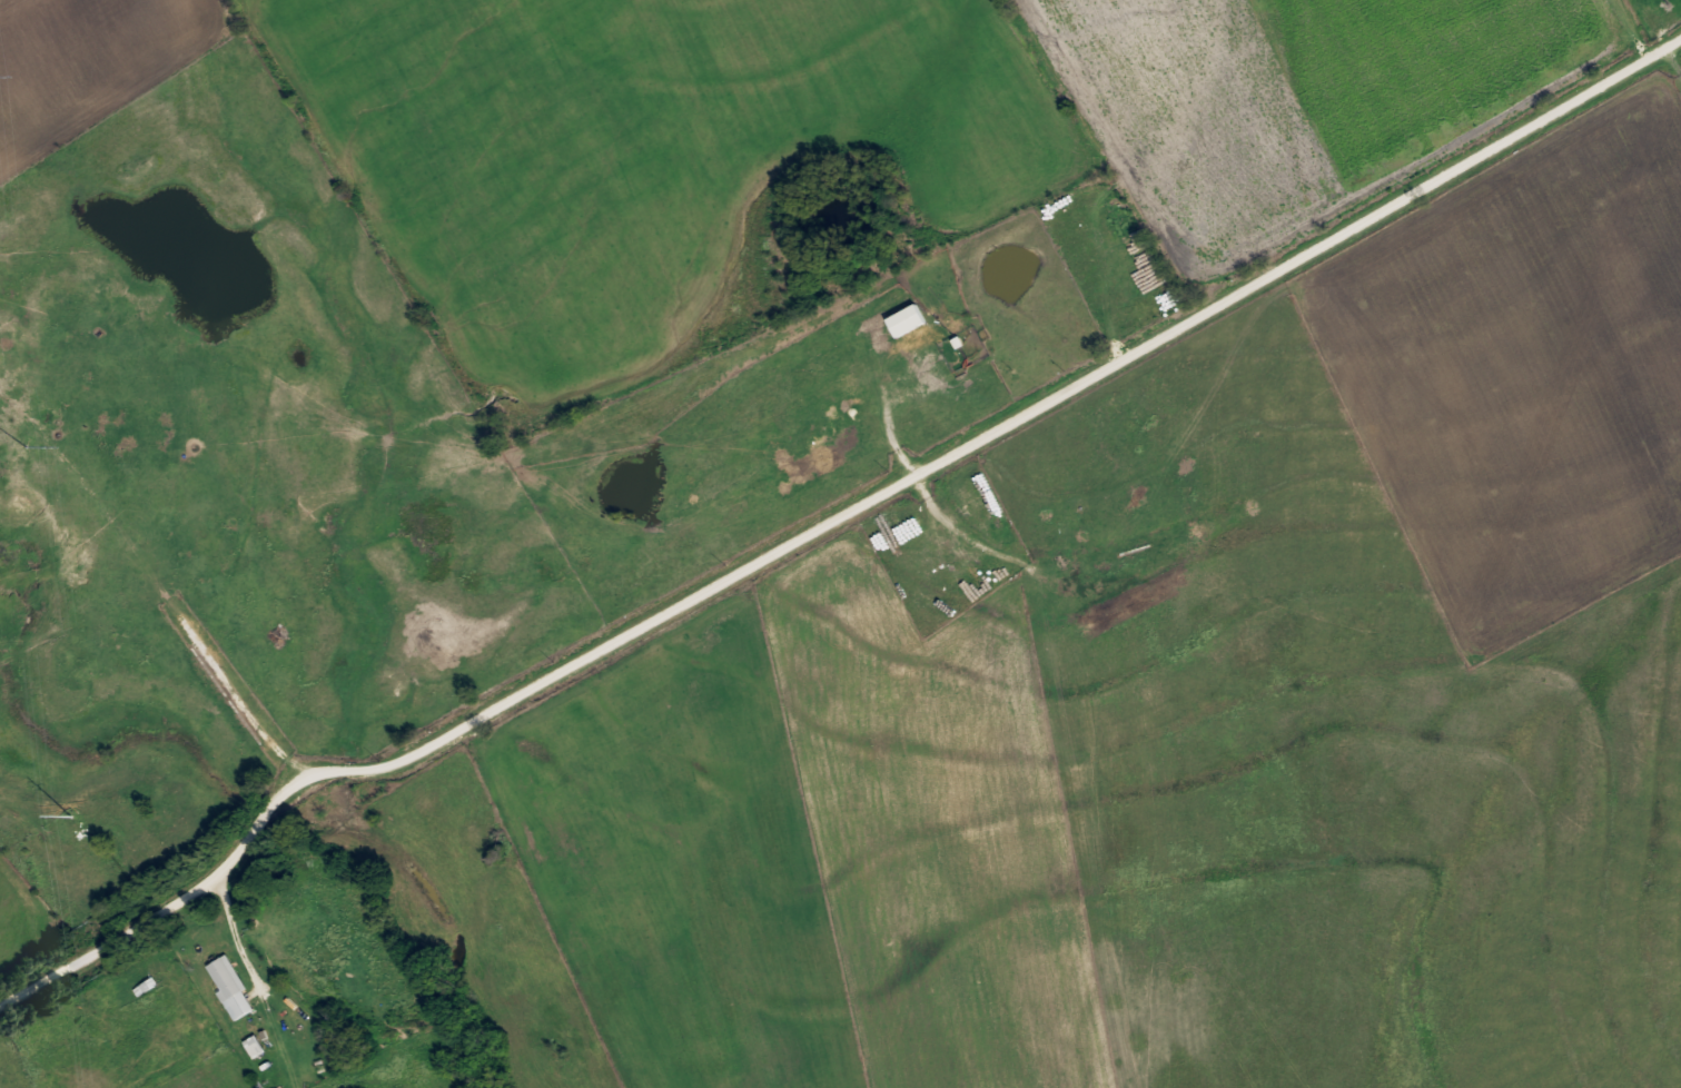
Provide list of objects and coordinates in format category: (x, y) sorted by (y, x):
building: (901, 318)
power tower: (24, 447)
road: (828, 520)
power tower: (72, 815)
building: (226, 986)
building: (250, 1045)

